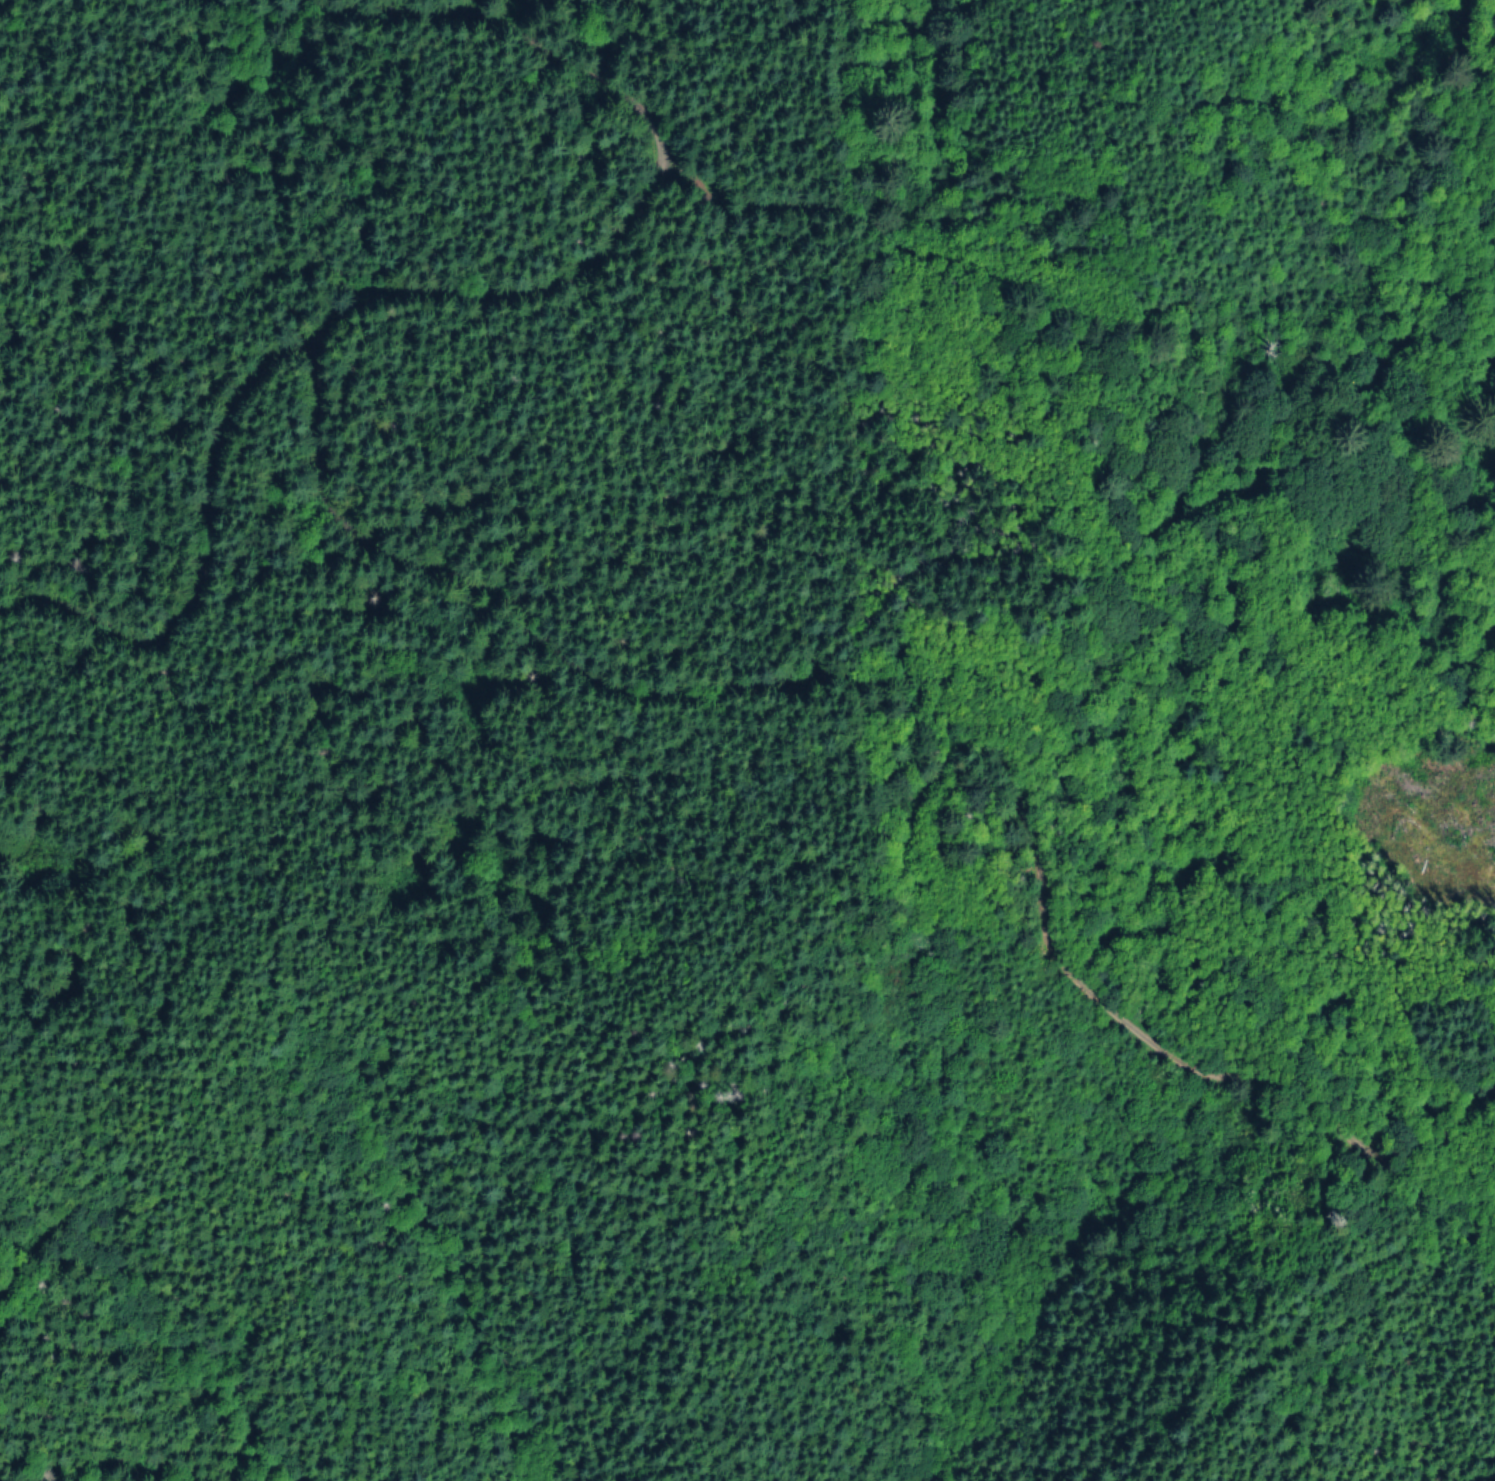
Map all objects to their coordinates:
road: (411, 303)

